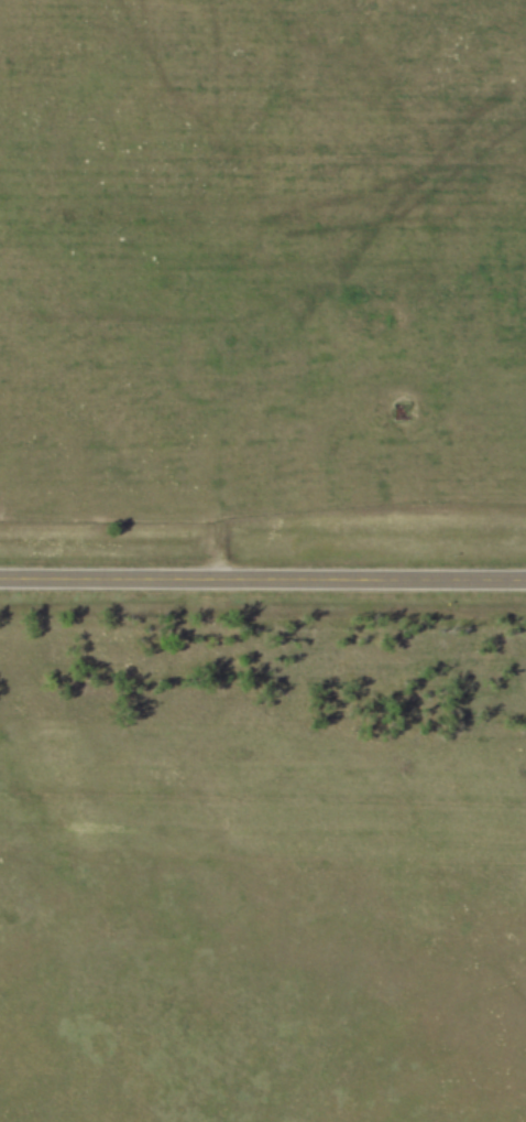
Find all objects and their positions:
road: (263, 574)

